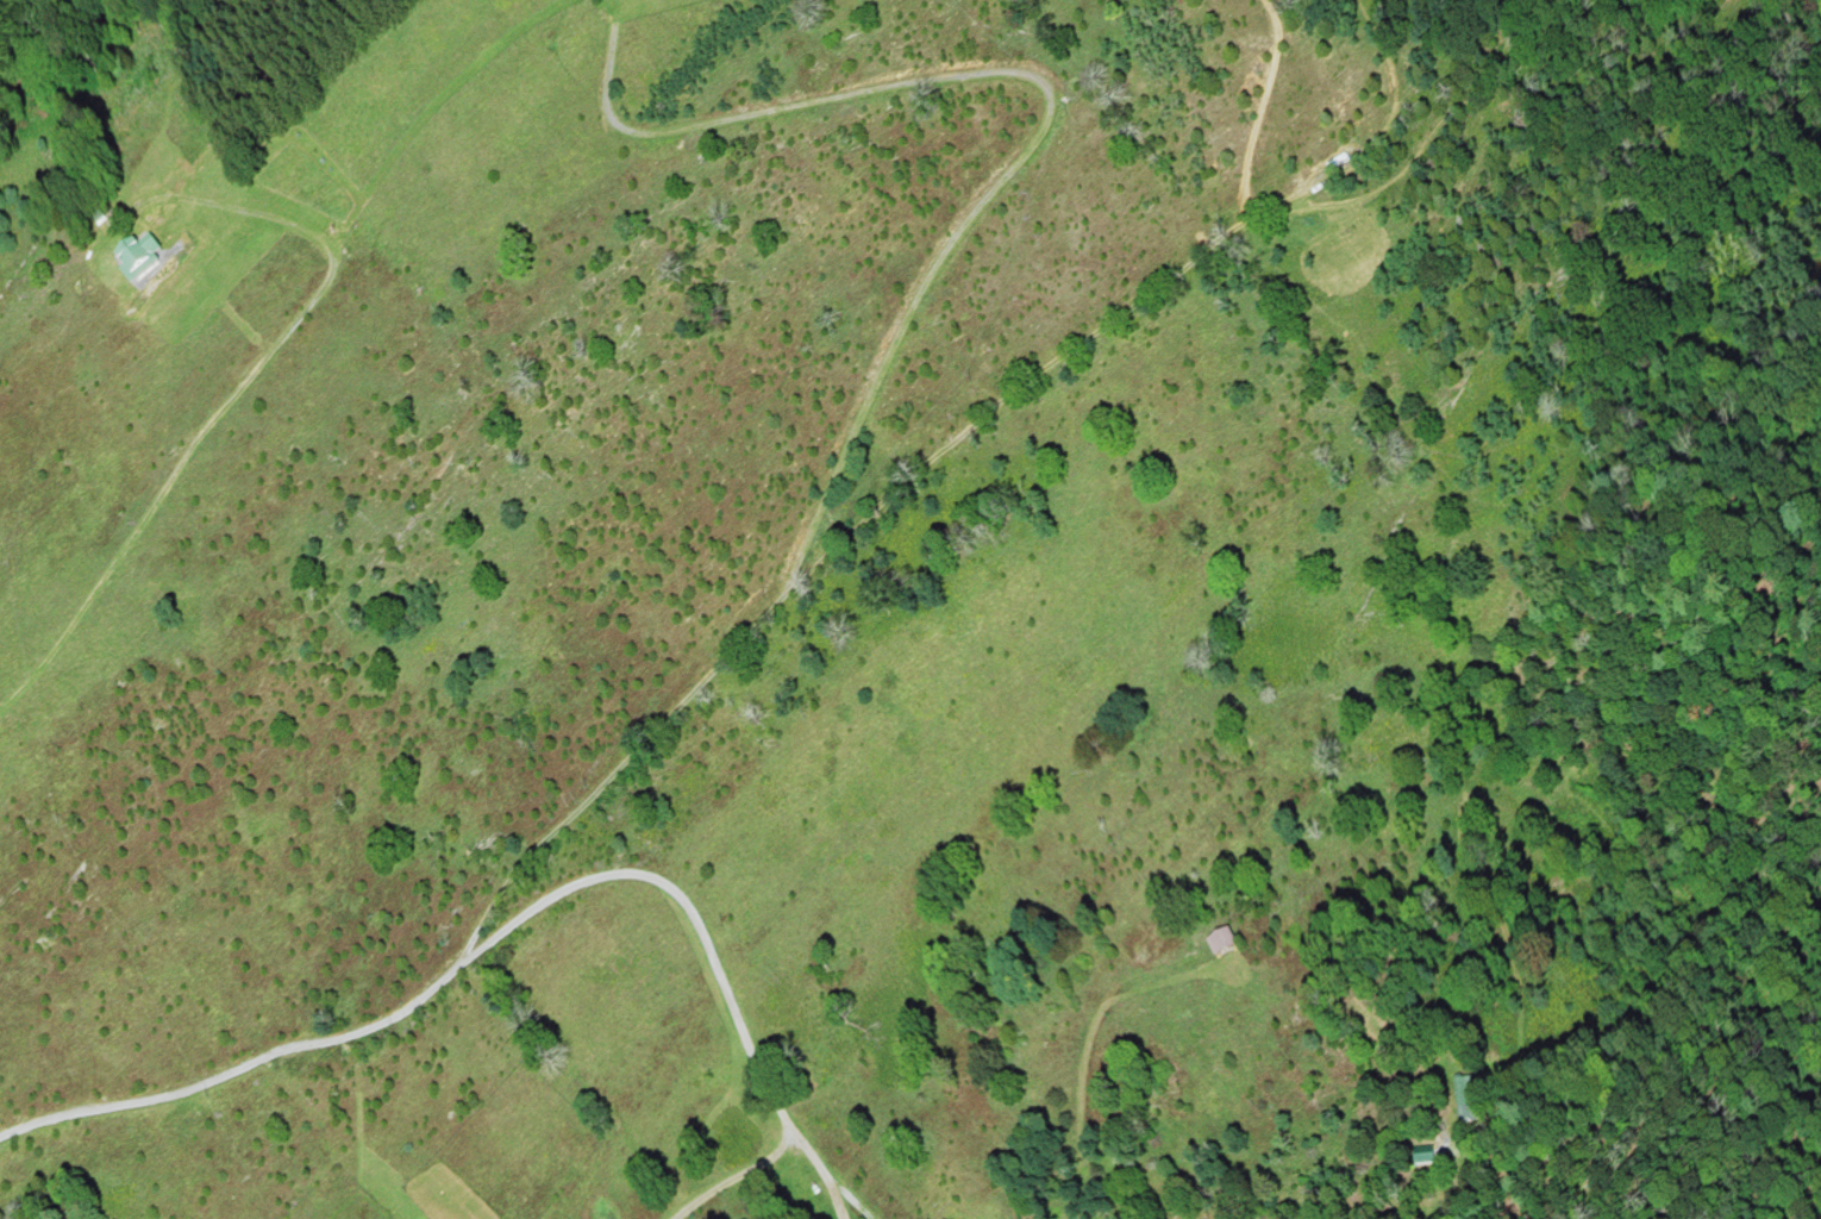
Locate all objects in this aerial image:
building: (148, 258)
road: (921, 295)
road: (1045, 365)
road: (237, 393)
road: (526, 918)
building: (1419, 1154)
road: (820, 1164)

